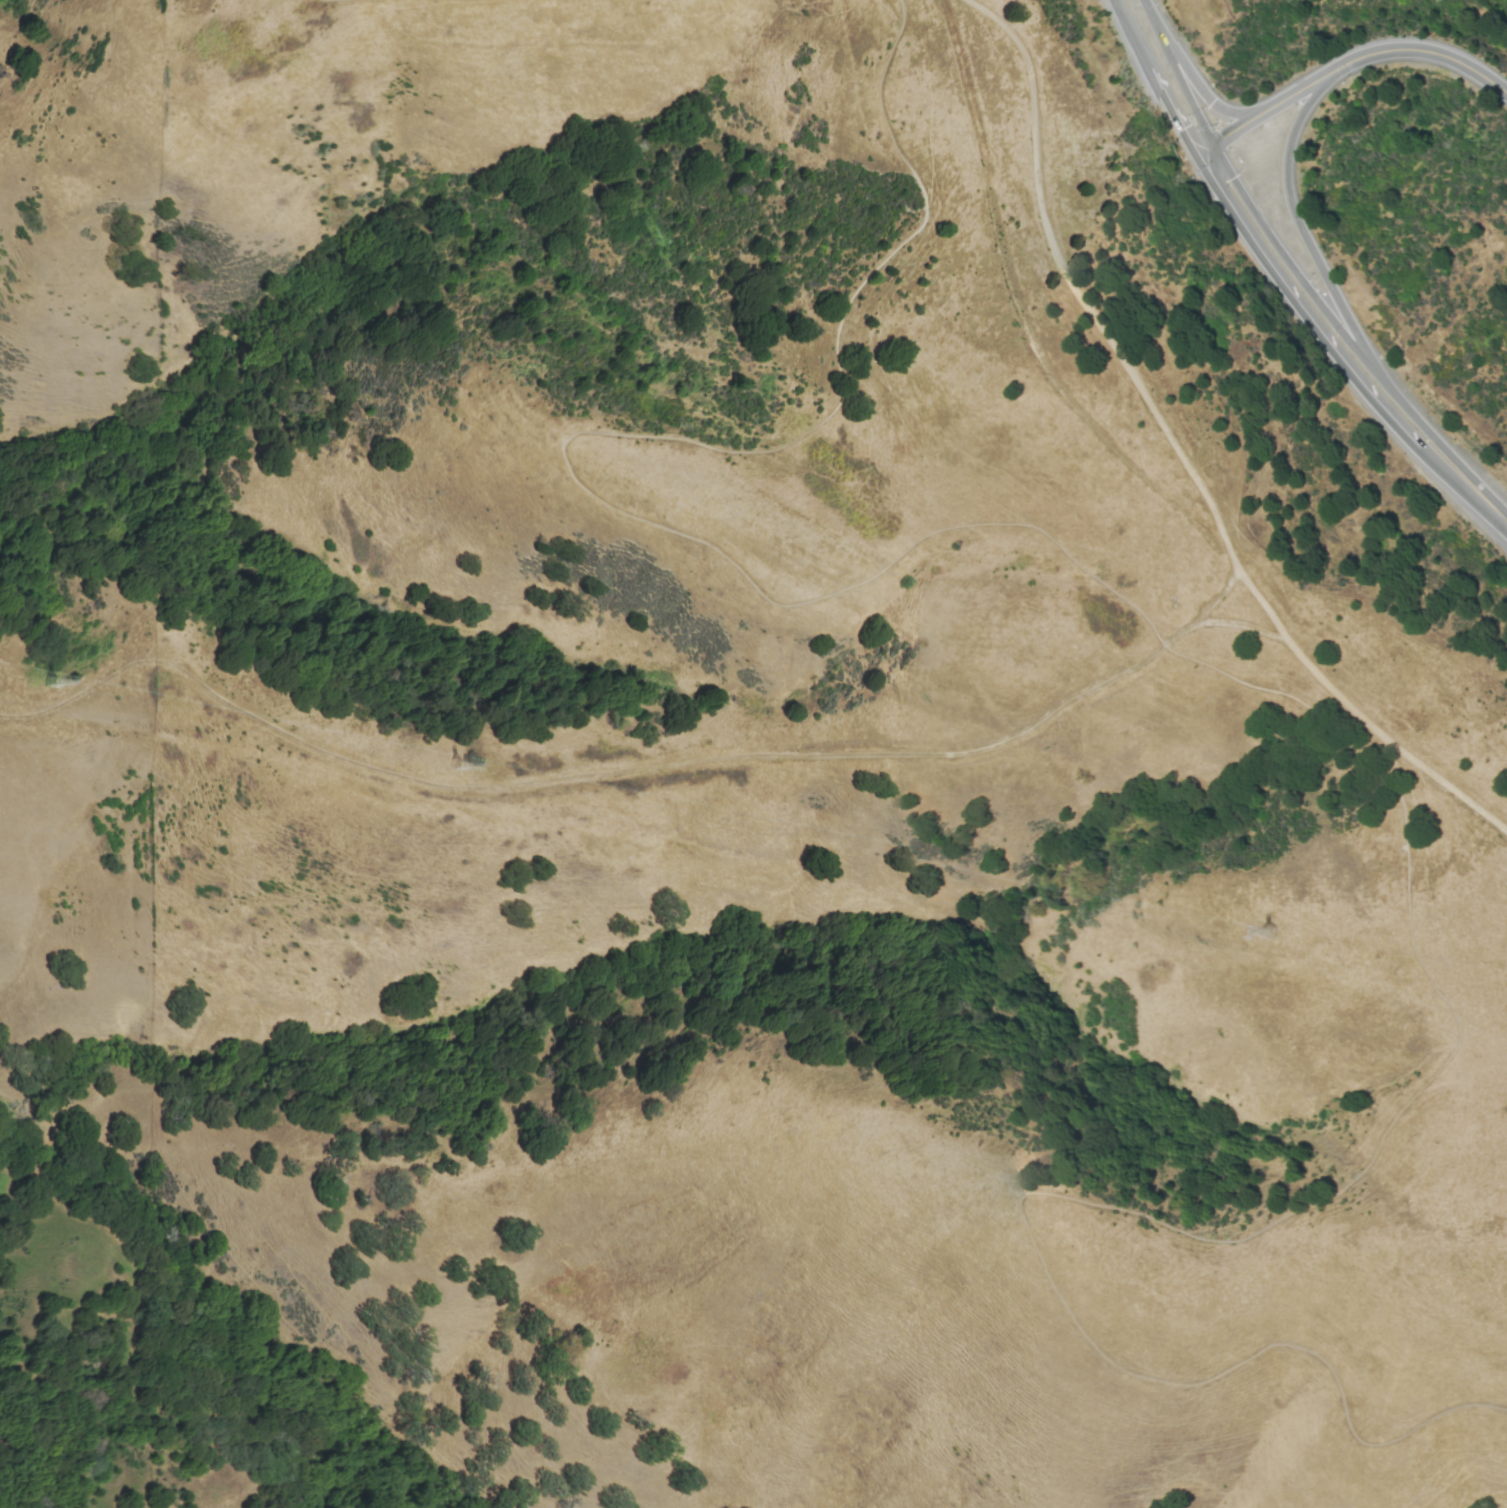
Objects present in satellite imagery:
road: (1346, 67)
road: (1197, 83)
traffic signals: (1210, 100)
traffic signals: (1215, 148)
traffic signals: (1198, 159)
road: (1301, 225)
road: (1295, 269)
road: (1274, 275)
road: (1173, 448)
road: (1498, 516)
road: (1252, 630)
road: (99, 682)
road: (1282, 692)
road: (714, 760)

